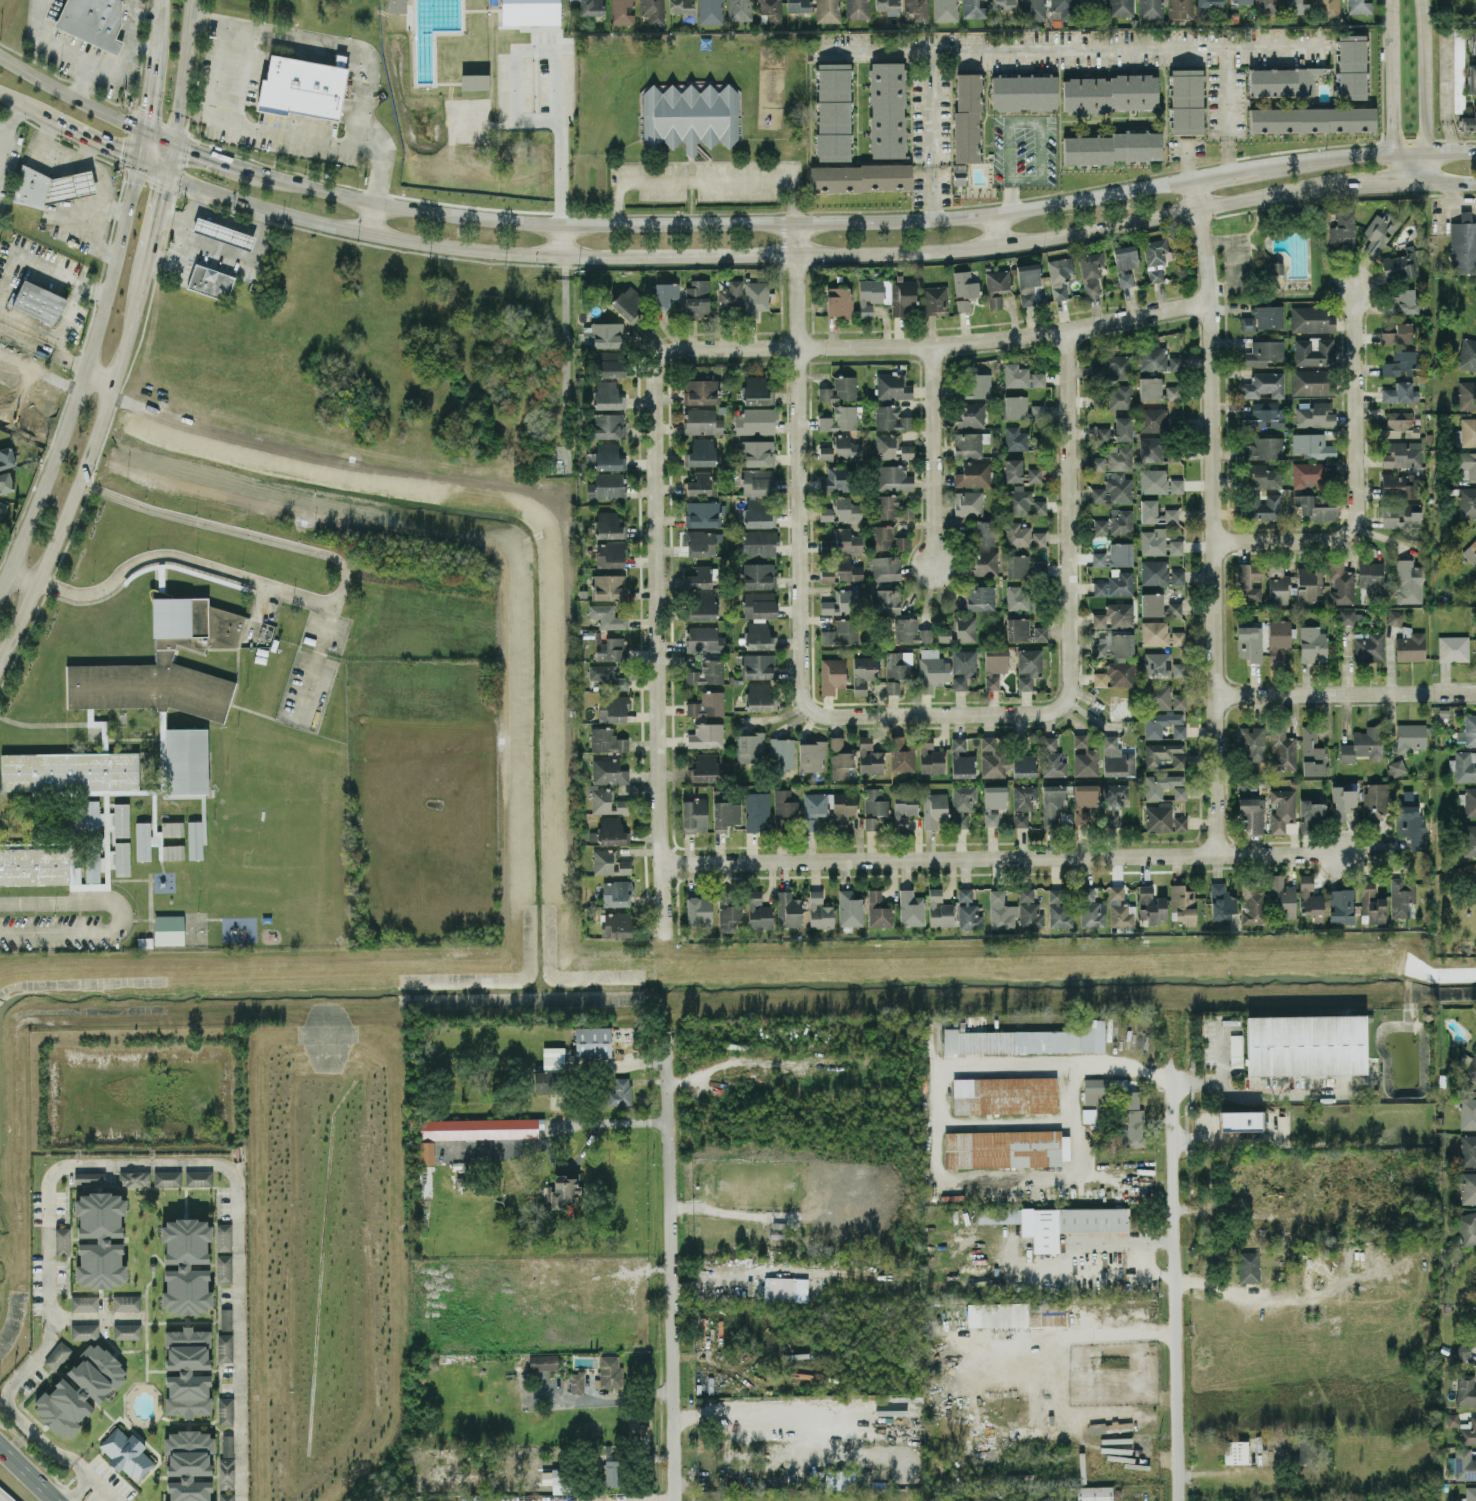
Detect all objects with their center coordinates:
building: (1243, 1)
building: (1003, 3)
building: (1091, 3)
building: (798, 5)
building: (1207, 5)
building: (397, 6)
building: (887, 6)
building: (1270, 6)
building: (1359, 6)
building: (591, 7)
building: (1121, 7)
building: (1312, 7)
building: (681, 8)
building: (917, 8)
building: (1063, 8)
building: (1149, 8)
building: (857, 9)
building: (973, 9)
building: (1032, 9)
building: (1180, 9)
building: (653, 10)
building: (738, 10)
building: (827, 10)
building: (945, 10)
building: (710, 11)
building: (769, 11)
building: (530, 12)
building: (621, 12)
road: (138, 14)
building: (93, 21)
road: (155, 37)
building: (1472, 40)
road: (1076, 41)
road: (141, 44)
road: (66, 47)
road: (344, 47)
building: (341, 59)
road: (127, 63)
building: (1351, 66)
building: (1458, 66)
road: (182, 70)
road: (1389, 76)
building: (1472, 78)
building: (1283, 80)
building: (474, 81)
building: (301, 87)
building: (1023, 92)
road: (1422, 92)
road: (1446, 92)
building: (1108, 93)
road: (69, 94)
road: (24, 101)
road: (145, 101)
building: (1186, 101)
road: (516, 105)
road: (1228, 106)
building: (887, 109)
building: (833, 111)
building: (690, 116)
building: (967, 117)
building: (1312, 119)
road: (1042, 120)
building: (1469, 122)
traffic signals: (141, 127)
road: (257, 129)
road: (933, 129)
road: (4, 131)
road: (157, 133)
road: (0, 137)
road: (92, 137)
traffic signals: (173, 140)
road: (138, 143)
building: (1110, 147)
road: (91, 150)
road: (1433, 151)
road: (208, 153)
road: (170, 157)
road: (1323, 159)
traffic signals: (136, 160)
road: (84, 161)
road: (1188, 161)
road: (1399, 166)
road: (152, 167)
road: (1222, 173)
traffic signals: (168, 175)
building: (860, 177)
road: (705, 178)
road: (1442, 179)
road: (1376, 182)
building: (50, 186)
road: (1006, 194)
road: (159, 210)
road: (189, 213)
road: (172, 218)
road: (373, 218)
road: (714, 223)
road: (995, 228)
building: (1378, 232)
building: (223, 233)
building: (1463, 244)
road: (218, 245)
building: (1155, 250)
road: (753, 253)
building: (1125, 263)
building: (1399, 264)
building: (1274, 267)
building: (1090, 270)
road: (6, 273)
road: (110, 273)
road: (59, 275)
building: (1155, 275)
building: (1059, 276)
building: (210, 281)
building: (1028, 282)
building: (964, 284)
building: (996, 286)
building: (665, 293)
building: (872, 294)
building: (730, 295)
building: (902, 296)
building: (697, 297)
building: (755, 297)
building: (935, 299)
building: (839, 301)
building: (39, 302)
building: (1402, 302)
building: (627, 303)
building: (963, 305)
building: (1268, 316)
building: (1311, 319)
road: (130, 320)
building: (1247, 323)
road: (564, 328)
road: (52, 332)
building: (604, 334)
building: (1397, 334)
road: (965, 341)
building: (1314, 351)
building: (1262, 352)
building: (1467, 354)
building: (1157, 358)
building: (611, 363)
building: (1399, 363)
building: (1118, 366)
building: (1021, 376)
road: (98, 377)
building: (1307, 381)
building: (1263, 384)
building: (892, 386)
building: (973, 386)
building: (1151, 388)
building: (839, 389)
building: (757, 390)
building: (700, 391)
building: (1172, 392)
building: (1400, 392)
building: (607, 395)
building: (1467, 395)
building: (1099, 397)
building: (1119, 397)
building: (1015, 406)
building: (1037, 411)
building: (970, 414)
building: (1263, 414)
building: (1315, 414)
building: (839, 418)
building: (891, 418)
road: (67, 419)
building: (1153, 419)
building: (702, 421)
building: (755, 421)
building: (608, 425)
building: (1397, 425)
road: (97, 429)
building: (1116, 430)
building: (1467, 432)
building: (1015, 438)
building: (969, 443)
building: (1312, 445)
building: (844, 447)
building: (891, 447)
building: (1263, 448)
building: (1156, 450)
building: (700, 452)
building: (756, 452)
building: (825, 452)
building: (1402, 453)
building: (608, 456)
road: (936, 456)
building: (6, 457)
road: (803, 463)
building: (1467, 464)
building: (1013, 470)
building: (973, 474)
building: (1034, 474)
building: (1113, 474)
building: (1308, 474)
building: (1261, 475)
road: (1356, 476)
building: (893, 477)
building: (835, 479)
building: (759, 480)
building: (1153, 480)
building: (5, 482)
building: (699, 484)
building: (607, 485)
building: (1176, 485)
building: (1399, 485)
building: (1022, 501)
building: (1467, 502)
building: (968, 503)
building: (892, 508)
building: (1314, 508)
building: (842, 509)
road: (32, 510)
building: (1262, 510)
building: (1156, 512)
building: (1, 513)
building: (758, 513)
building: (1399, 513)
building: (703, 514)
road: (1214, 516)
road: (61, 521)
road: (1070, 522)
building: (1115, 522)
building: (609, 525)
road: (231, 529)
building: (979, 533)
building: (1023, 535)
building: (887, 538)
building: (841, 541)
building: (1152, 541)
building: (702, 542)
building: (757, 543)
building: (1176, 546)
building: (1472, 548)
building: (610, 554)
building: (1114, 555)
road: (182, 556)
building: (984, 563)
building: (1016, 566)
building: (885, 567)
building: (847, 570)
building: (1039, 570)
road: (23, 572)
building: (1160, 573)
building: (826, 574)
building: (758, 575)
road: (5, 576)
building: (699, 577)
building: (1249, 580)
building: (1371, 580)
building: (1408, 581)
building: (1306, 583)
building: (1340, 583)
building: (1114, 584)
road: (659, 585)
building: (1278, 585)
building: (608, 586)
building: (1015, 596)
building: (980, 597)
building: (885, 600)
building: (841, 602)
building: (759, 604)
building: (1158, 605)
building: (702, 606)
road: (260, 612)
building: (1115, 615)
building: (607, 616)
building: (1347, 616)
building: (1394, 617)
road: (18, 618)
building: (959, 629)
building: (1024, 630)
building: (910, 631)
building: (840, 632)
building: (1154, 632)
building: (759, 636)
building: (1177, 637)
building: (704, 639)
building: (1278, 639)
building: (1250, 642)
building: (1312, 644)
building: (1113, 645)
building: (1410, 645)
building: (1368, 646)
building: (1453, 648)
building: (611, 649)
building: (1475, 650)
road: (317, 664)
building: (1157, 664)
building: (165, 665)
building: (758, 666)
building: (994, 666)
building: (932, 667)
building: (962, 667)
building: (1028, 667)
building: (897, 669)
building: (1178, 669)
building: (707, 672)
building: (863, 672)
building: (1120, 673)
building: (832, 675)
building: (607, 677)
building: (1099, 678)
road: (1346, 694)
building: (1157, 695)
building: (760, 696)
building: (1178, 700)
building: (707, 704)
building: (612, 708)
road: (930, 715)
building: (1468, 730)
building: (1152, 731)
building: (706, 735)
building: (1410, 736)
building: (607, 740)
building: (836, 742)
building: (1252, 743)
building: (1363, 744)
building: (750, 746)
building: (1282, 749)
building: (1311, 752)
building: (1164, 753)
building: (902, 754)
building: (781, 755)
building: (811, 755)
building: (869, 756)
building: (930, 756)
building: (1084, 757)
building: (1051, 758)
building: (1116, 758)
building: (961, 759)
building: (992, 759)
building: (188, 761)
building: (841, 763)
building: (1024, 765)
building: (1465, 765)
building: (704, 767)
building: (1396, 767)
building: (608, 771)
building: (68, 772)
building: (1164, 784)
building: (1087, 794)
building: (1468, 800)
building: (606, 801)
building: (1374, 801)
building: (874, 802)
building: (1113, 802)
building: (993, 803)
building: (1023, 803)
building: (1052, 803)
building: (1342, 803)
building: (962, 804)
building: (829, 807)
building: (903, 808)
building: (783, 809)
building: (934, 809)
building: (1281, 809)
building: (1311, 810)
building: (756, 811)
building: (1251, 814)
building: (694, 815)
building: (725, 815)
building: (91, 817)
building: (1081, 817)
building: (1158, 818)
building: (121, 819)
building: (1179, 823)
building: (1411, 824)
building: (171, 829)
building: (612, 831)
building: (194, 840)
building: (1469, 840)
building: (142, 841)
building: (173, 853)
building: (122, 858)
road: (1004, 858)
building: (604, 862)
building: (92, 863)
building: (34, 866)
building: (624, 866)
building: (1474, 888)
building: (617, 892)
building: (1401, 897)
building: (1310, 898)
building: (1267, 900)
road: (665, 901)
building: (1221, 902)
building: (1182, 904)
building: (1371, 904)
building: (1151, 905)
building: (1341, 906)
building: (910, 907)
building: (698, 908)
building: (1090, 908)
building: (1119, 908)
building: (862, 909)
building: (939, 909)
building: (1029, 909)
building: (788, 910)
building: (819, 910)
building: (968, 910)
building: (1001, 910)
building: (1058, 910)
building: (728, 911)
building: (758, 911)
road: (120, 915)
building: (615, 924)
building: (169, 929)
building: (1027, 1039)
building: (592, 1042)
building: (1305, 1044)
road: (1220, 1050)
building: (1236, 1050)
building: (1467, 1065)
building: (543, 1081)
building: (1107, 1089)
building: (620, 1092)
road: (1261, 1092)
building: (1004, 1094)
building: (1467, 1113)
building: (1240, 1120)
road: (936, 1126)
building: (480, 1128)
road: (552, 1129)
building: (1132, 1130)
building: (1005, 1148)
building: (1468, 1150)
building: (426, 1153)
road: (140, 1164)
building: (89, 1177)
building: (198, 1177)
building: (134, 1178)
building: (167, 1178)
building: (1468, 1187)
building: (563, 1189)
building: (997, 1215)
building: (1068, 1223)
building: (1467, 1227)
building: (223, 1236)
building: (99, 1239)
building: (62, 1240)
road: (1094, 1249)
road: (1148, 1254)
building: (186, 1265)
building: (1249, 1266)
building: (224, 1268)
road: (1174, 1275)
road: (672, 1279)
building: (786, 1289)
building: (126, 1302)
building: (84, 1303)
building: (996, 1314)
road: (96, 1316)
building: (226, 1318)
building: (84, 1331)
building: (126, 1331)
building: (224, 1347)
building: (1462, 1351)
building: (57, 1355)
building: (543, 1361)
building: (610, 1370)
building: (187, 1371)
building: (576, 1381)
building: (79, 1389)
building: (1465, 1390)
road: (606, 1399)
building: (225, 1410)
road: (771, 1413)
building: (1451, 1419)
building: (588, 1430)
building: (1468, 1432)
building: (1234, 1451)
building: (1303, 1451)
building: (126, 1453)
building: (226, 1461)
building: (188, 1464)
building: (1464, 1464)
road: (29, 1472)
building: (611, 1472)
building: (549, 1476)
road: (98, 1481)
road: (77, 1488)
building: (1094, 1493)
road: (98, 1494)
building: (1469, 1494)
building: (227, 1496)
road: (654, 1497)
road: (1, 1499)

